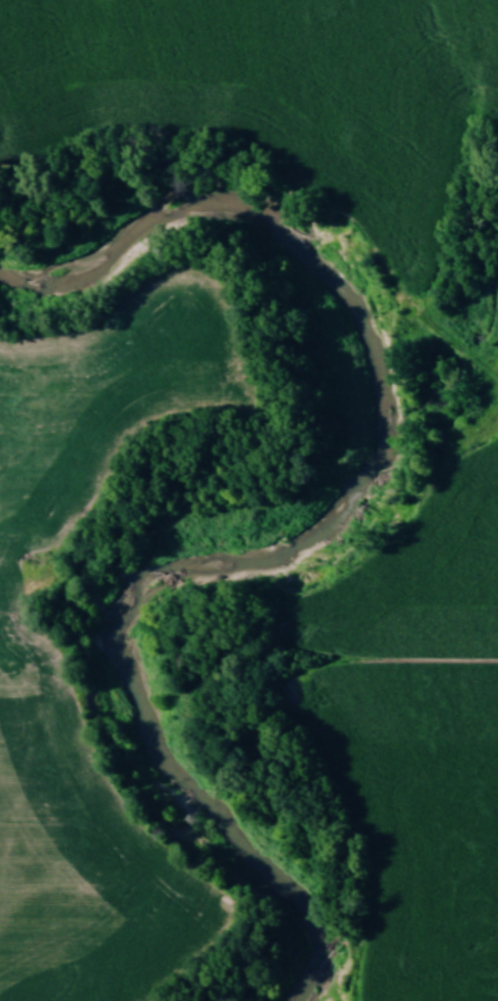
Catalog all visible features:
river: (313, 524)

